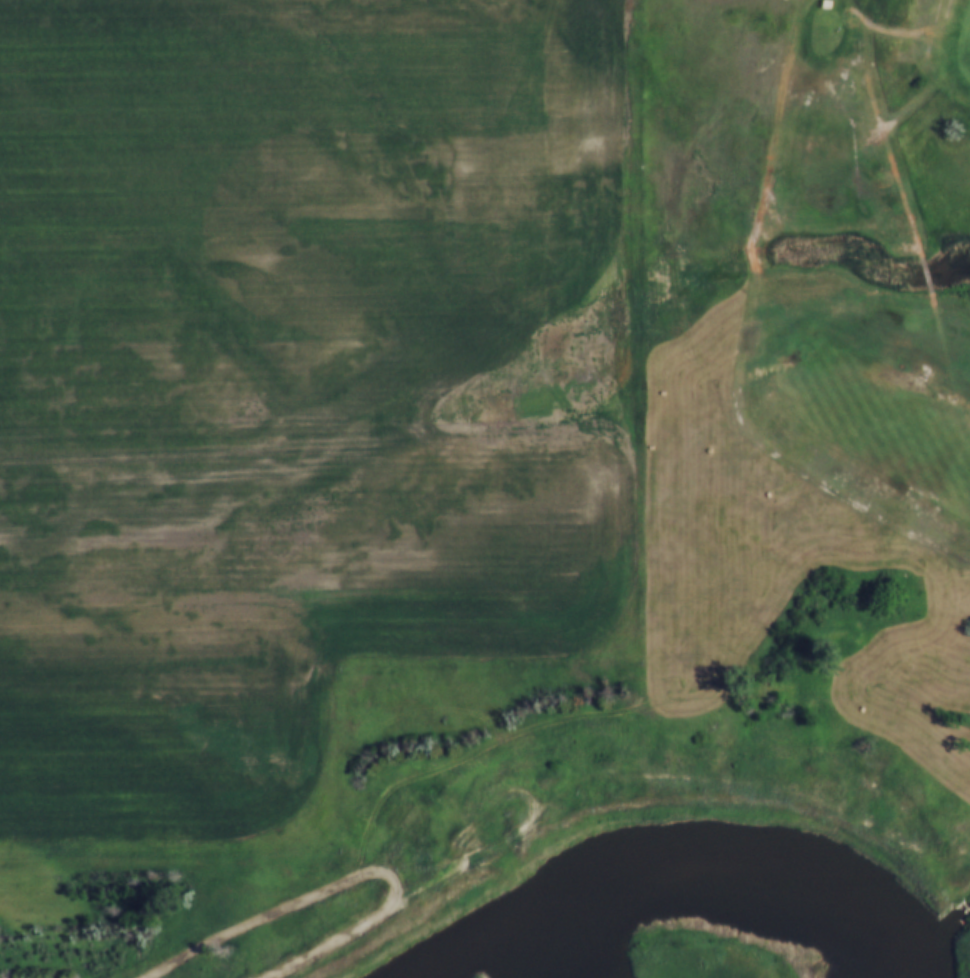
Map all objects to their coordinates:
park: (862, 267)
road: (685, 327)
road: (535, 804)
road: (375, 924)

